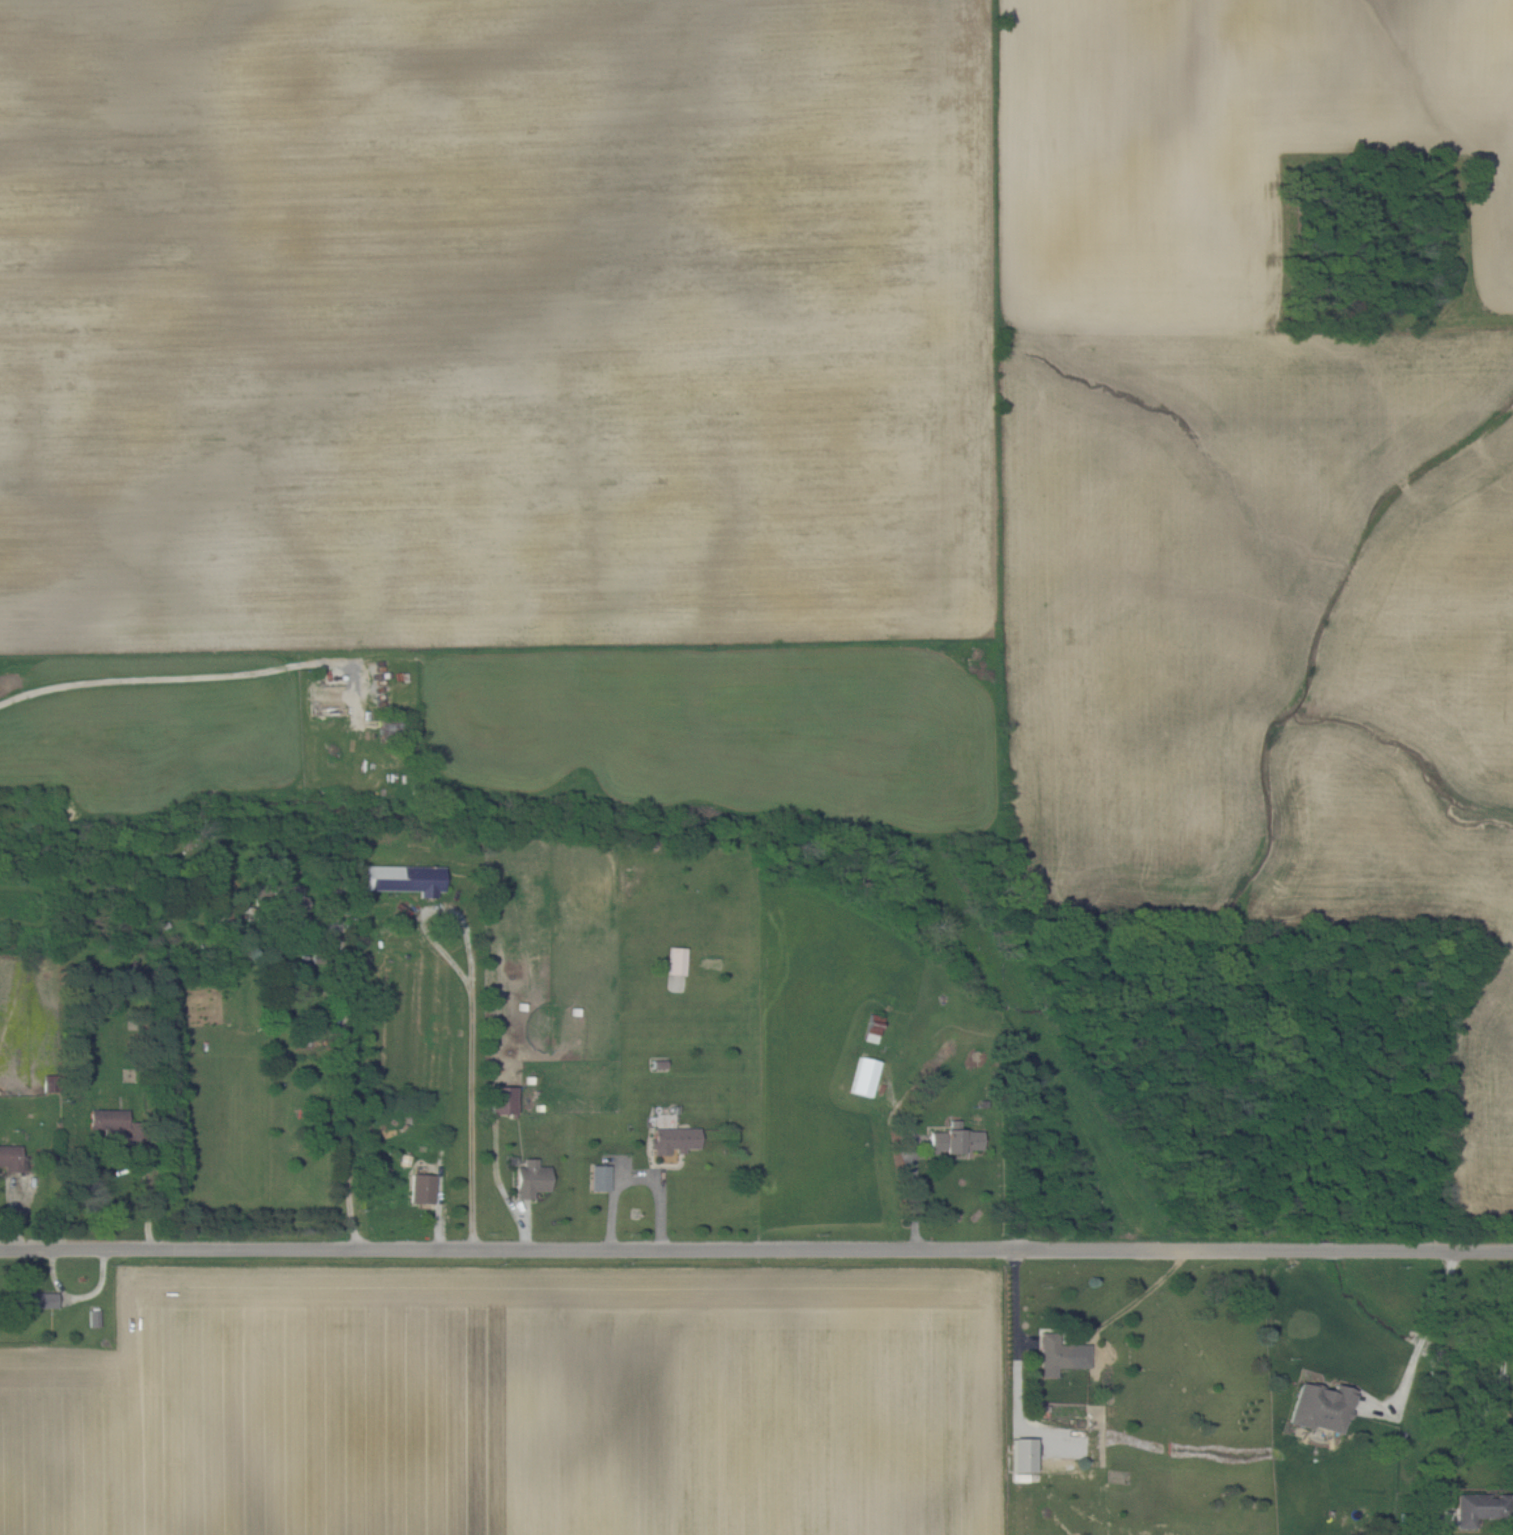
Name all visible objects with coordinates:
road: (184, 677)
building: (332, 698)
building: (404, 877)
building: (288, 893)
building: (677, 960)
road: (472, 1019)
building: (873, 1027)
road: (345, 1071)
building: (865, 1075)
building: (49, 1082)
building: (502, 1099)
building: (111, 1122)
building: (956, 1138)
building: (673, 1139)
building: (11, 1157)
building: (600, 1176)
road: (637, 1177)
building: (531, 1178)
building: (422, 1187)
road: (910, 1187)
road: (756, 1247)
building: (35, 1297)
road: (1018, 1307)
road: (1416, 1337)
building: (1055, 1354)
road: (1484, 1402)
building: (1321, 1406)
building: (1024, 1454)
building: (1480, 1507)

